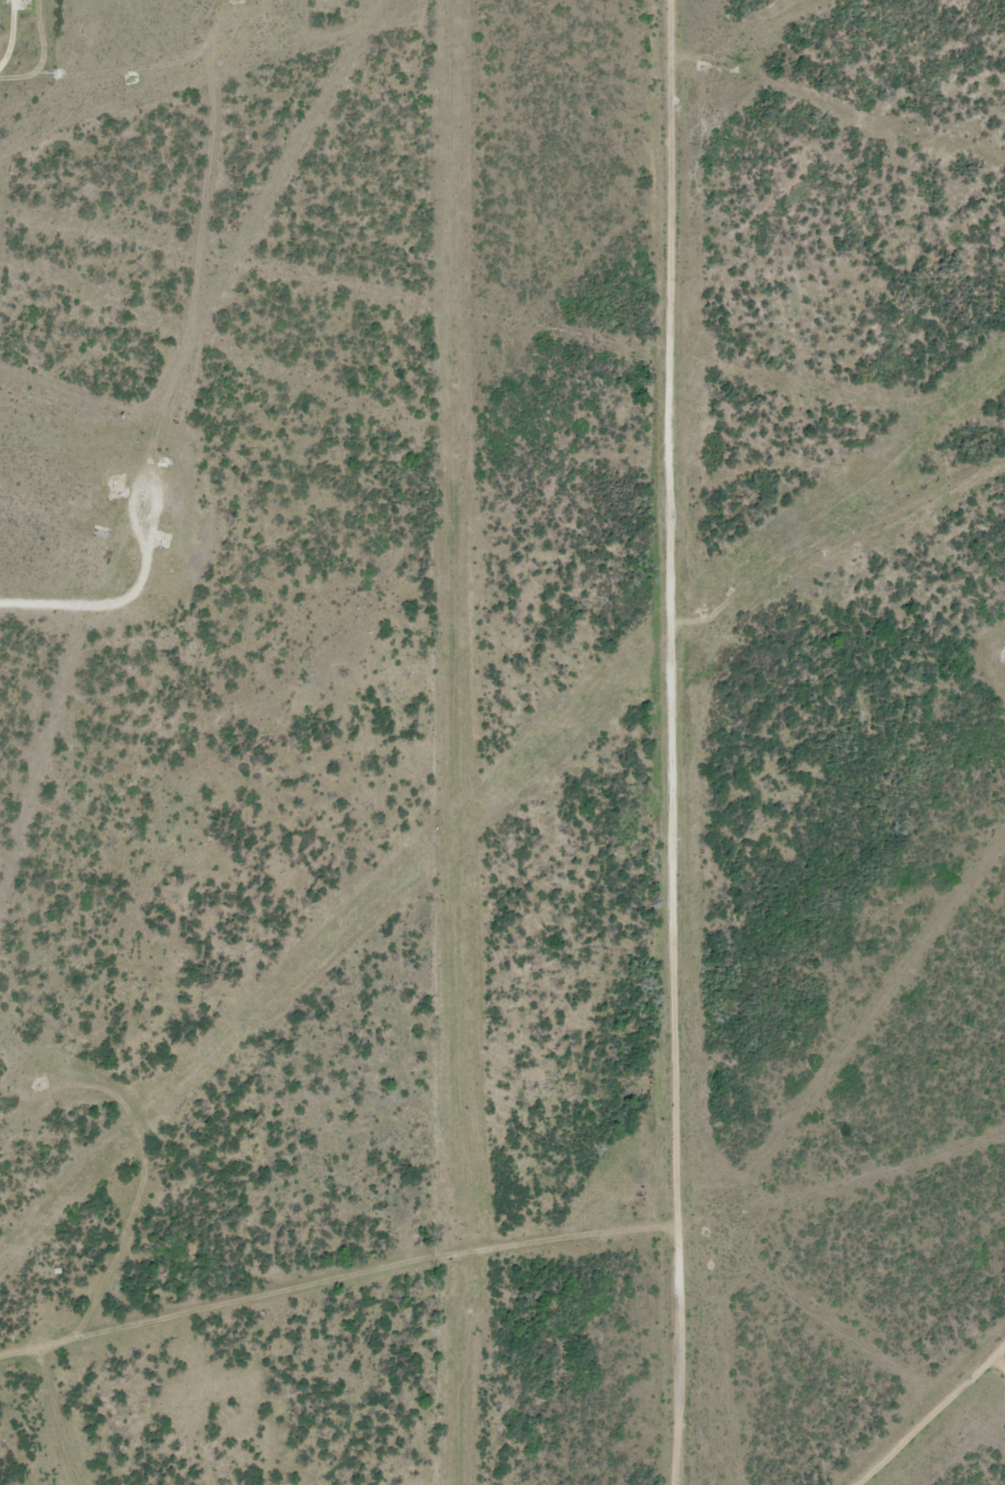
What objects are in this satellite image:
road: (10, 39)
road: (115, 74)
road: (669, 742)
road: (997, 1393)
road: (938, 1415)

